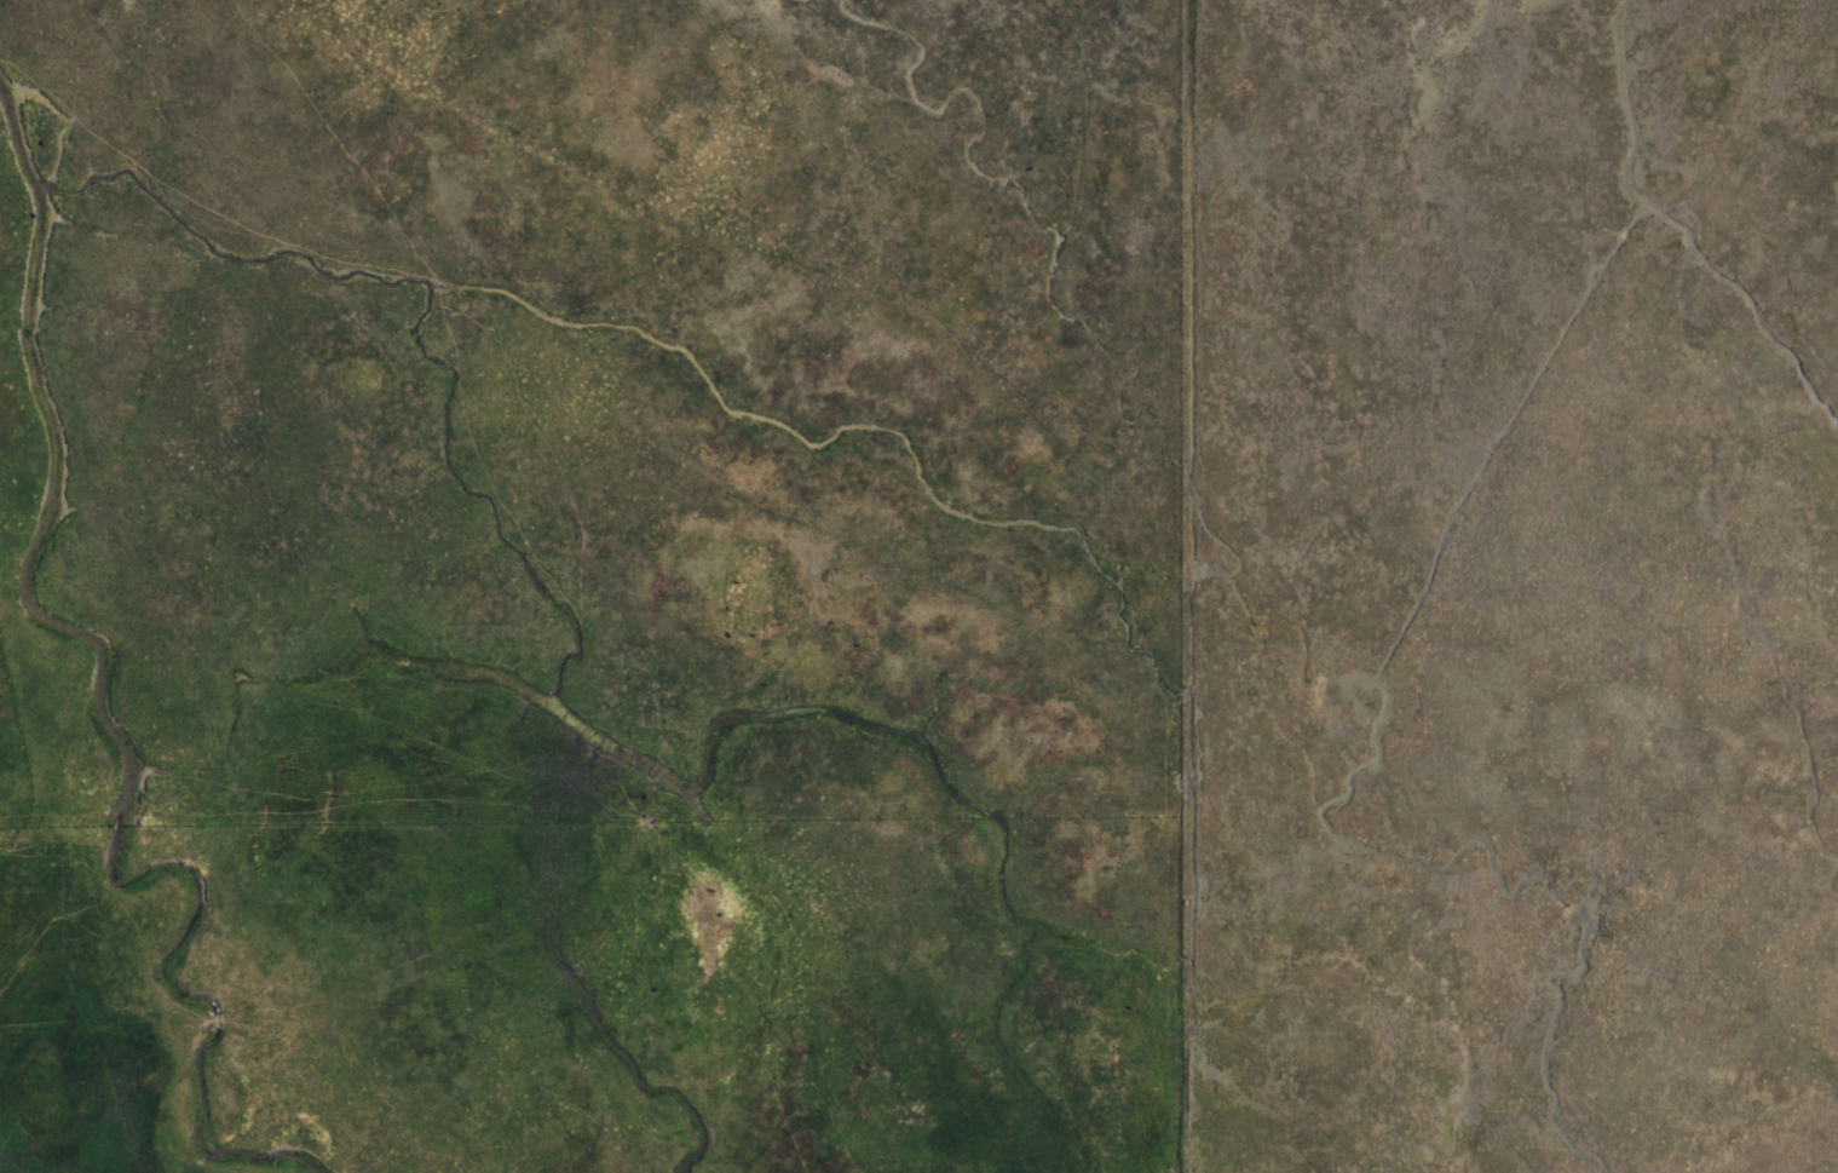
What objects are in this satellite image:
crop: (918, 586)

